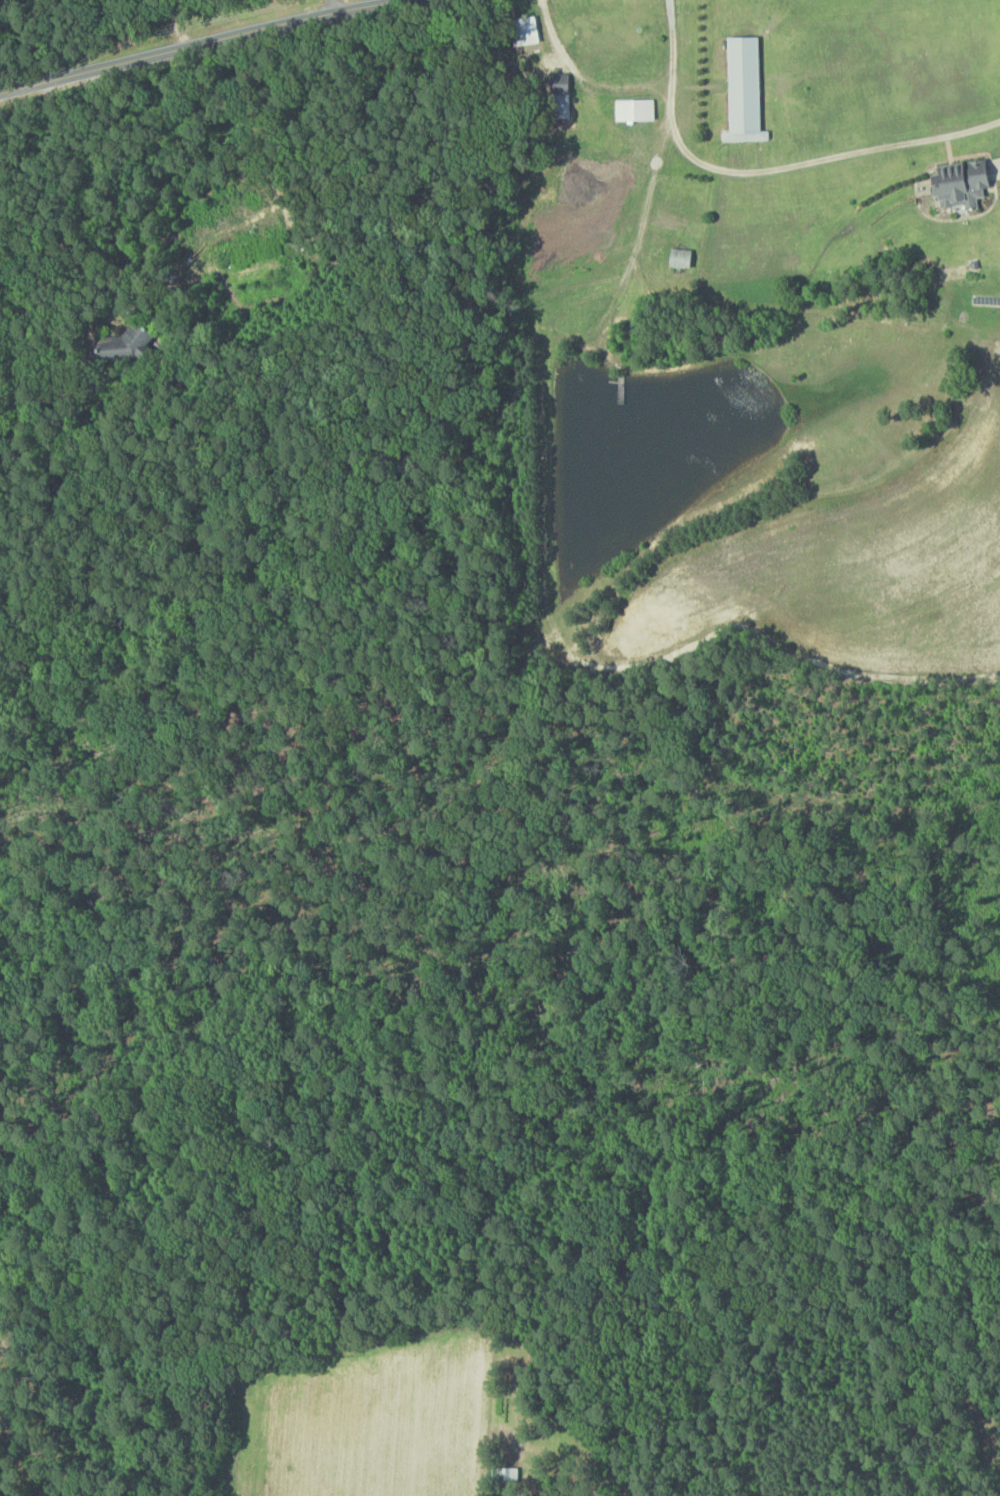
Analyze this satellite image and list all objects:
road: (376, 4)
road: (333, 8)
road: (213, 46)
road: (585, 76)
building: (741, 89)
building: (558, 105)
building: (632, 109)
road: (765, 170)
building: (957, 183)
building: (678, 257)
building: (507, 1475)

